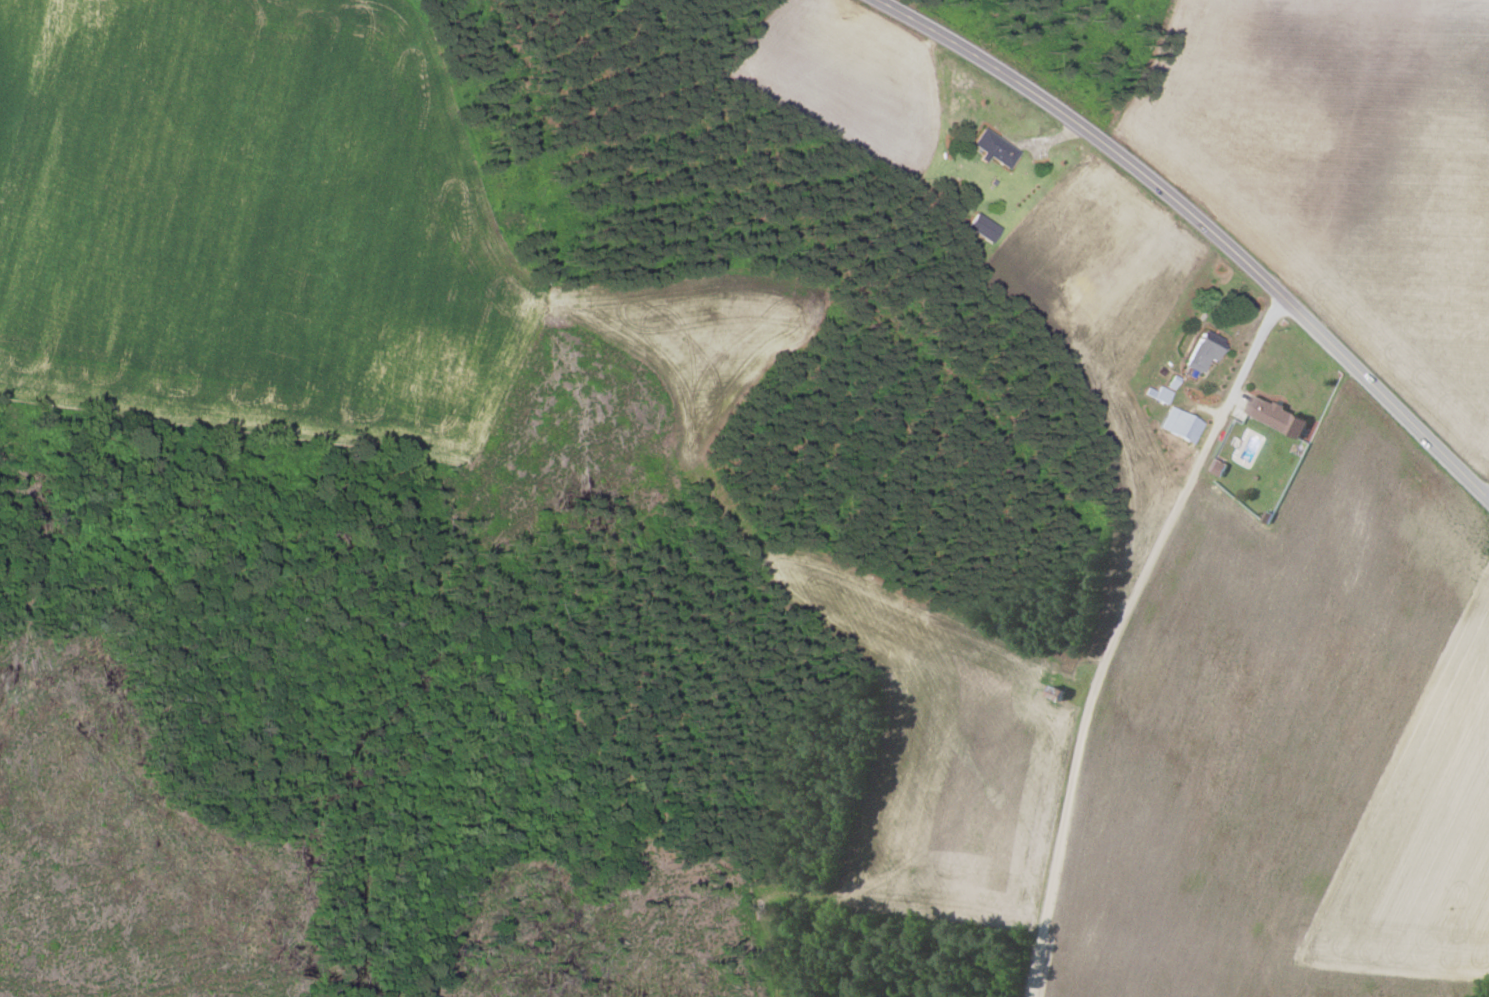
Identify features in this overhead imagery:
building: (994, 148)
road: (1200, 225)
building: (982, 227)
building: (1203, 351)
building: (1158, 394)
building: (1276, 416)
building: (1181, 424)
building: (1216, 467)
road: (1115, 633)

